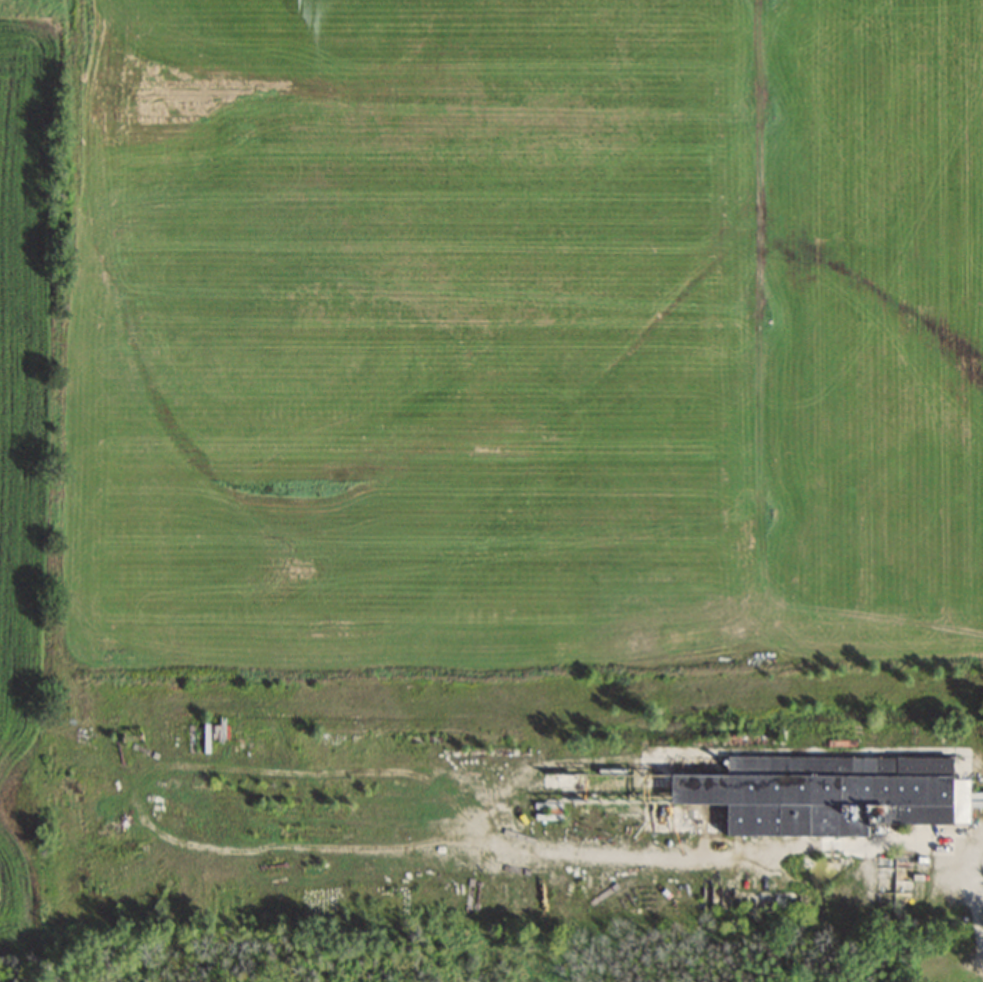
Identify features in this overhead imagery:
building: (823, 791)
road: (760, 847)

